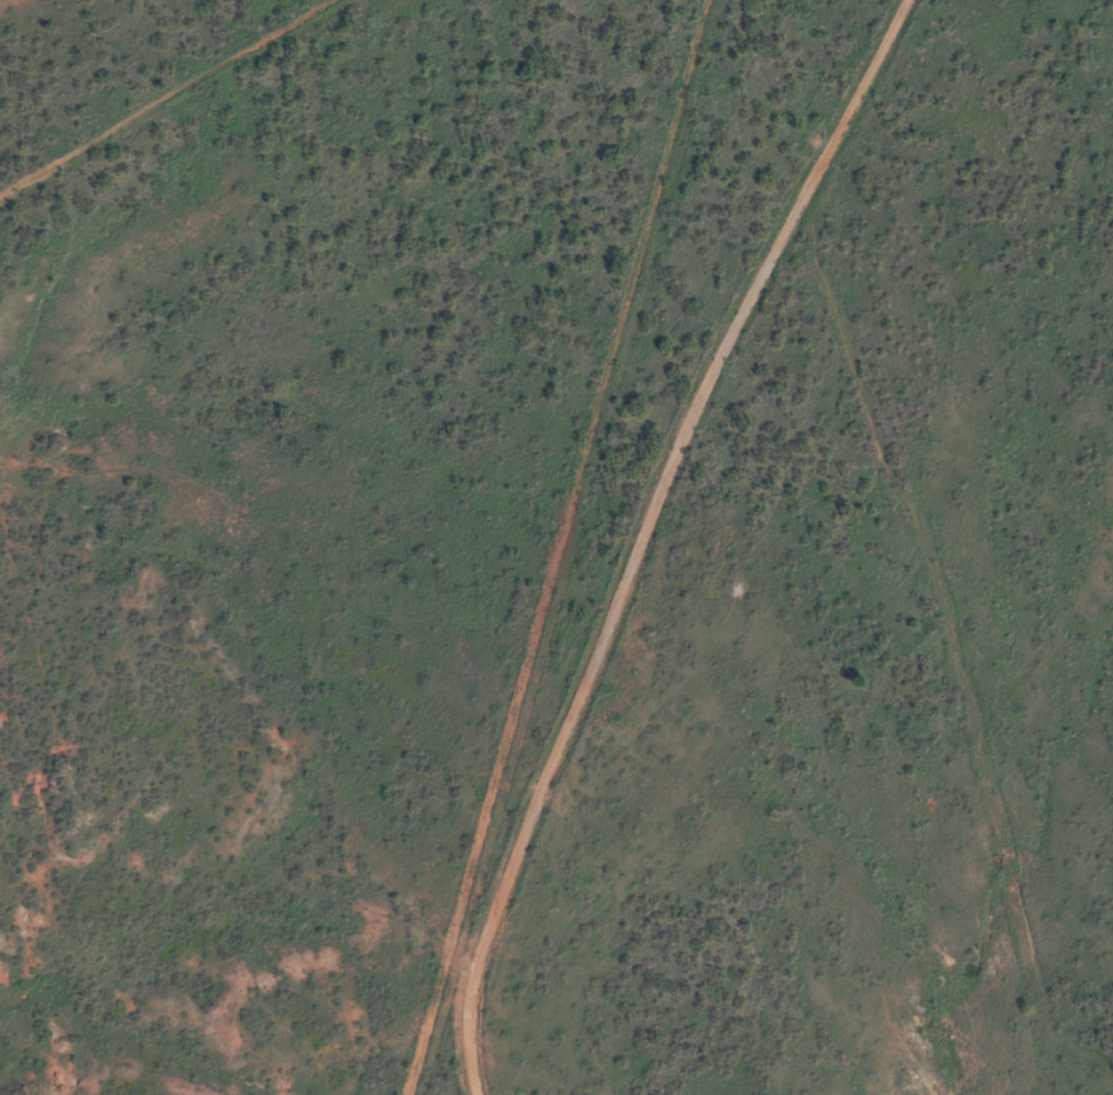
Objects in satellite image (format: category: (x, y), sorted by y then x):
road: (188, 103)
road: (661, 529)

